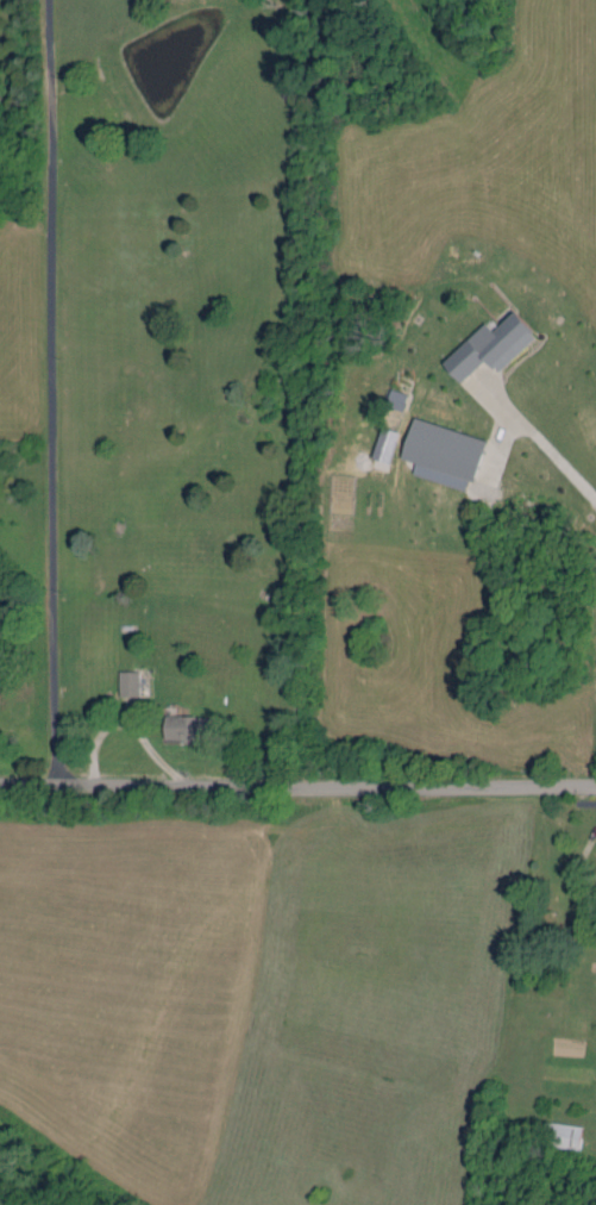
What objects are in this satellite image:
building: (478, 344)
road: (51, 388)
building: (387, 395)
road: (545, 445)
building: (432, 449)
building: (119, 680)
road: (297, 780)

